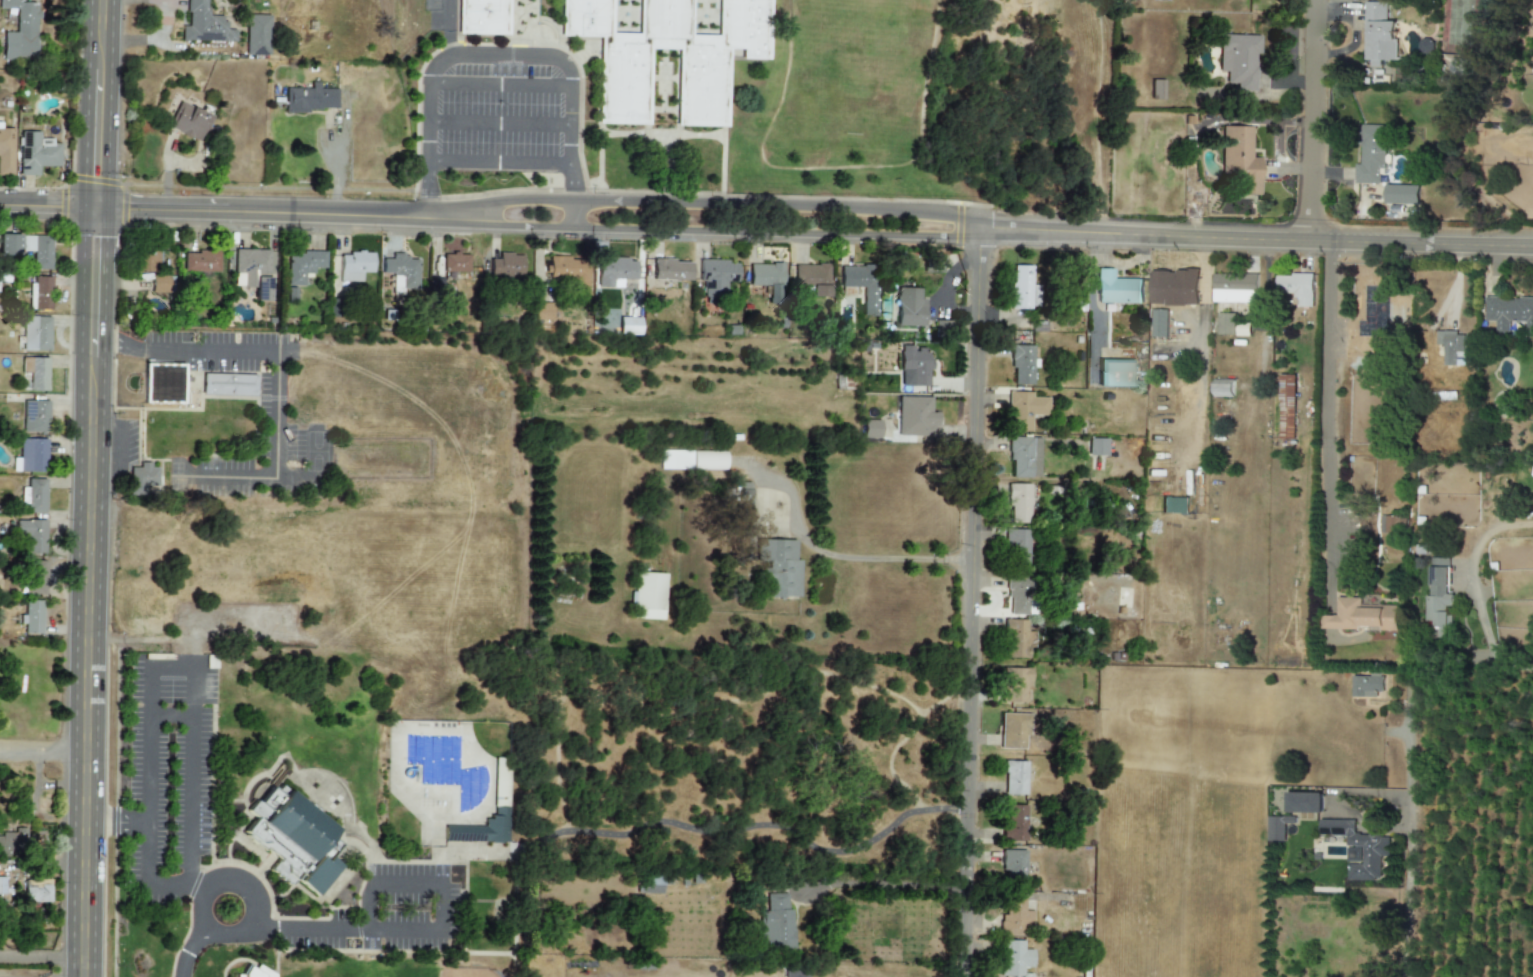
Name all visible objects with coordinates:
building: (483, 17)
building: (202, 25)
road: (444, 29)
building: (16, 31)
building: (1378, 34)
building: (255, 35)
road: (490, 60)
building: (1239, 60)
building: (1459, 67)
road: (501, 87)
building: (1157, 90)
building: (624, 92)
building: (311, 99)
road: (96, 104)
road: (1312, 120)
building: (188, 122)
road: (501, 124)
building: (5, 152)
building: (35, 154)
building: (1371, 155)
road: (337, 160)
building: (1240, 160)
road: (500, 162)
building: (1401, 194)
road: (710, 204)
road: (47, 209)
road: (574, 213)
road: (268, 214)
road: (707, 226)
road: (1252, 238)
building: (9, 245)
building: (39, 251)
building: (149, 260)
building: (201, 262)
building: (455, 263)
building: (303, 265)
building: (354, 266)
building: (506, 267)
building: (566, 270)
building: (252, 272)
building: (613, 272)
building: (401, 273)
building: (671, 273)
building: (716, 278)
building: (767, 279)
building: (812, 280)
building: (159, 284)
building: (861, 285)
building: (1022, 287)
building: (1173, 287)
building: (1297, 287)
road: (1091, 288)
building: (1117, 288)
building: (1235, 288)
building: (42, 294)
building: (909, 308)
building: (1508, 311)
building: (542, 312)
building: (1158, 323)
building: (1226, 324)
building: (628, 326)
road: (1264, 328)
building: (1242, 330)
building: (36, 334)
road: (1201, 341)
building: (1450, 347)
building: (1022, 365)
building: (913, 366)
building: (36, 373)
road: (276, 378)
building: (163, 381)
building: (228, 385)
building: (1223, 388)
road: (1326, 397)
building: (1286, 407)
building: (1024, 410)
building: (35, 416)
building: (915, 417)
building: (871, 429)
road: (107, 444)
building: (1097, 448)
building: (32, 455)
building: (1025, 458)
building: (691, 460)
road: (313, 467)
building: (142, 478)
building: (738, 494)
building: (36, 496)
building: (1018, 503)
building: (1174, 505)
building: (31, 535)
building: (1017, 550)
road: (882, 558)
building: (777, 568)
building: (35, 577)
road: (87, 592)
building: (1440, 594)
building: (1018, 595)
building: (647, 596)
road: (966, 604)
building: (1361, 616)
building: (32, 617)
road: (1486, 637)
building: (1017, 639)
building: (1015, 685)
building: (1367, 686)
road: (191, 701)
building: (1013, 732)
road: (42, 754)
building: (1014, 778)
building: (1305, 803)
road: (115, 823)
building: (1014, 823)
building: (1278, 827)
building: (481, 830)
building: (286, 831)
road: (1407, 834)
building: (14, 844)
building: (1358, 849)
building: (1014, 868)
road: (148, 872)
building: (318, 875)
road: (404, 884)
road: (881, 884)
building: (651, 885)
building: (2, 886)
building: (37, 891)
road: (199, 909)
road: (254, 910)
building: (1015, 919)
building: (775, 920)
road: (344, 928)
road: (41, 955)
road: (187, 957)
building: (1015, 958)
building: (257, 973)
building: (794, 974)

